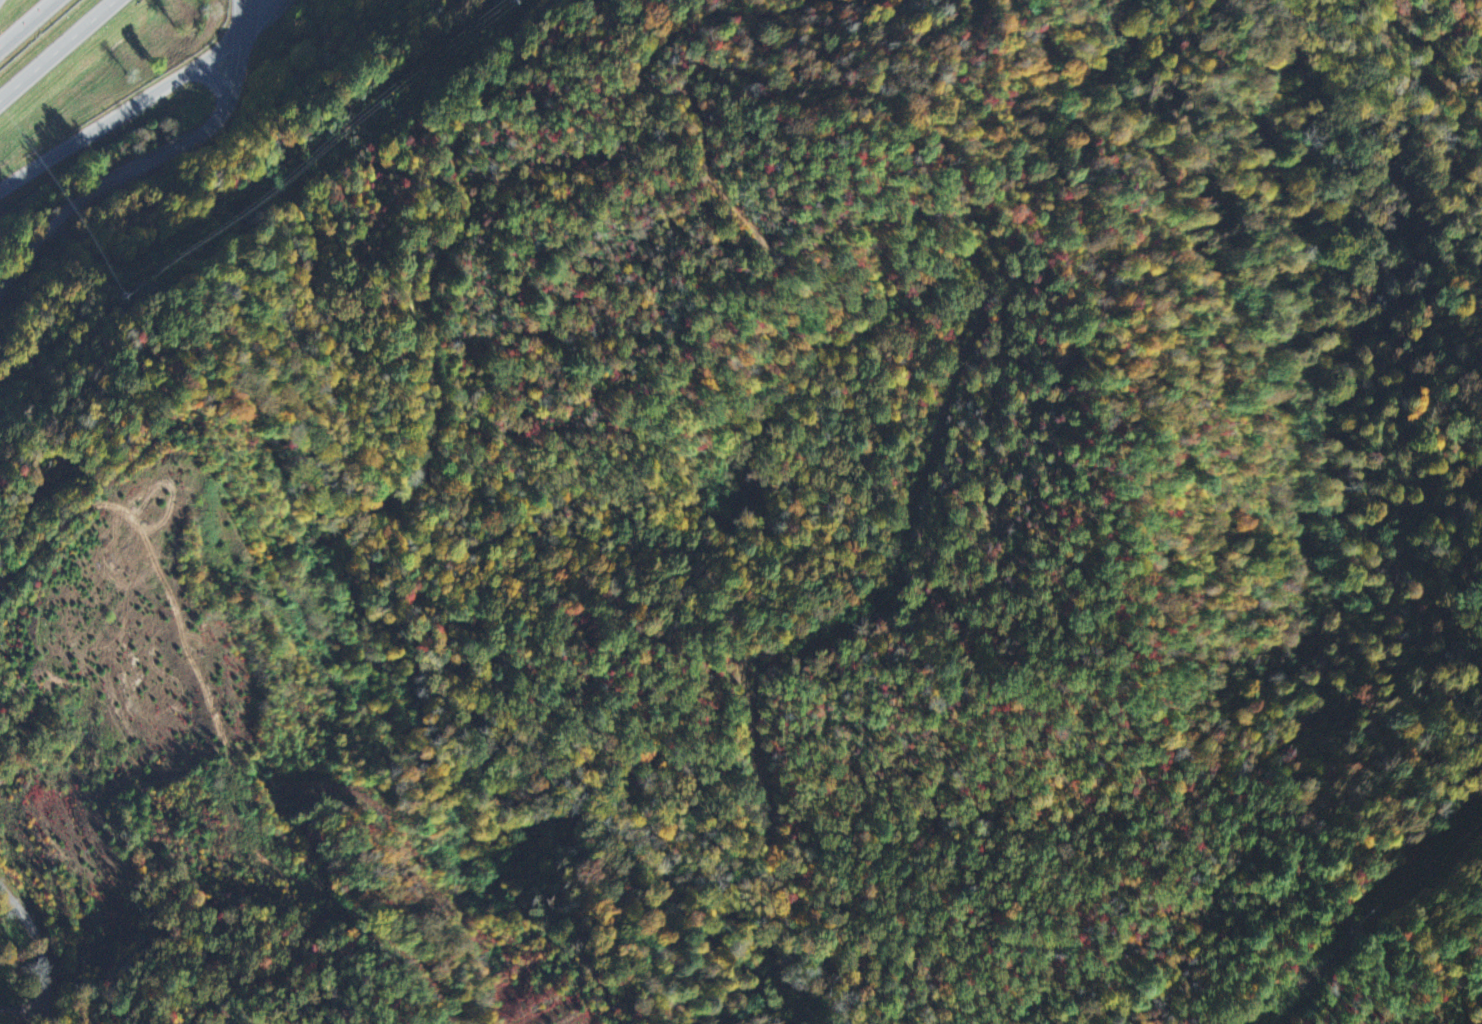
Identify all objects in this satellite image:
road: (243, 17)
road: (262, 17)
road: (27, 24)
road: (58, 50)
road: (214, 74)
road: (121, 113)
road: (133, 170)
power tower: (277, 214)
road: (400, 581)
road: (40, 940)
road: (21, 1008)
road: (47, 1016)

